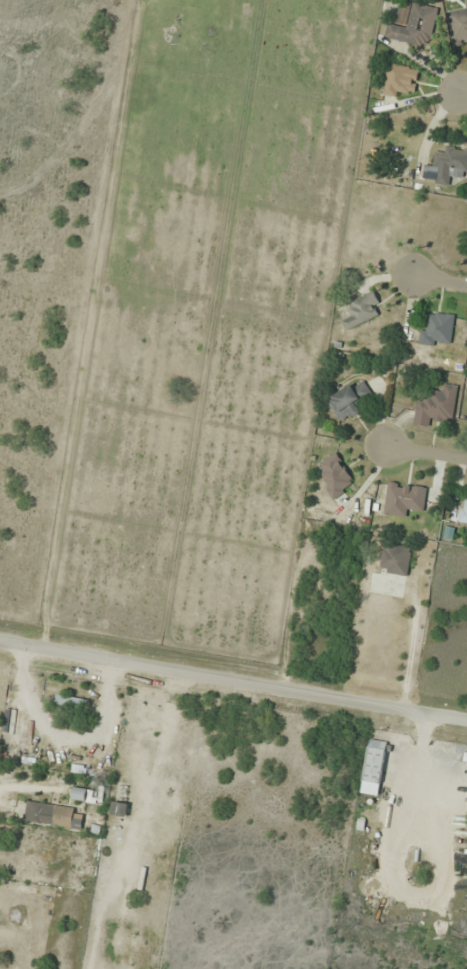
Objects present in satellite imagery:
building: (413, 23)
building: (458, 25)
building: (400, 79)
road: (462, 94)
building: (449, 164)
road: (437, 284)
building: (361, 309)
building: (438, 330)
building: (349, 399)
building: (436, 404)
road: (427, 451)
building: (336, 477)
building: (404, 498)
building: (463, 510)
building: (395, 558)
road: (233, 679)
building: (72, 701)
building: (465, 757)
building: (374, 766)
building: (80, 793)
building: (120, 808)
building: (54, 814)

